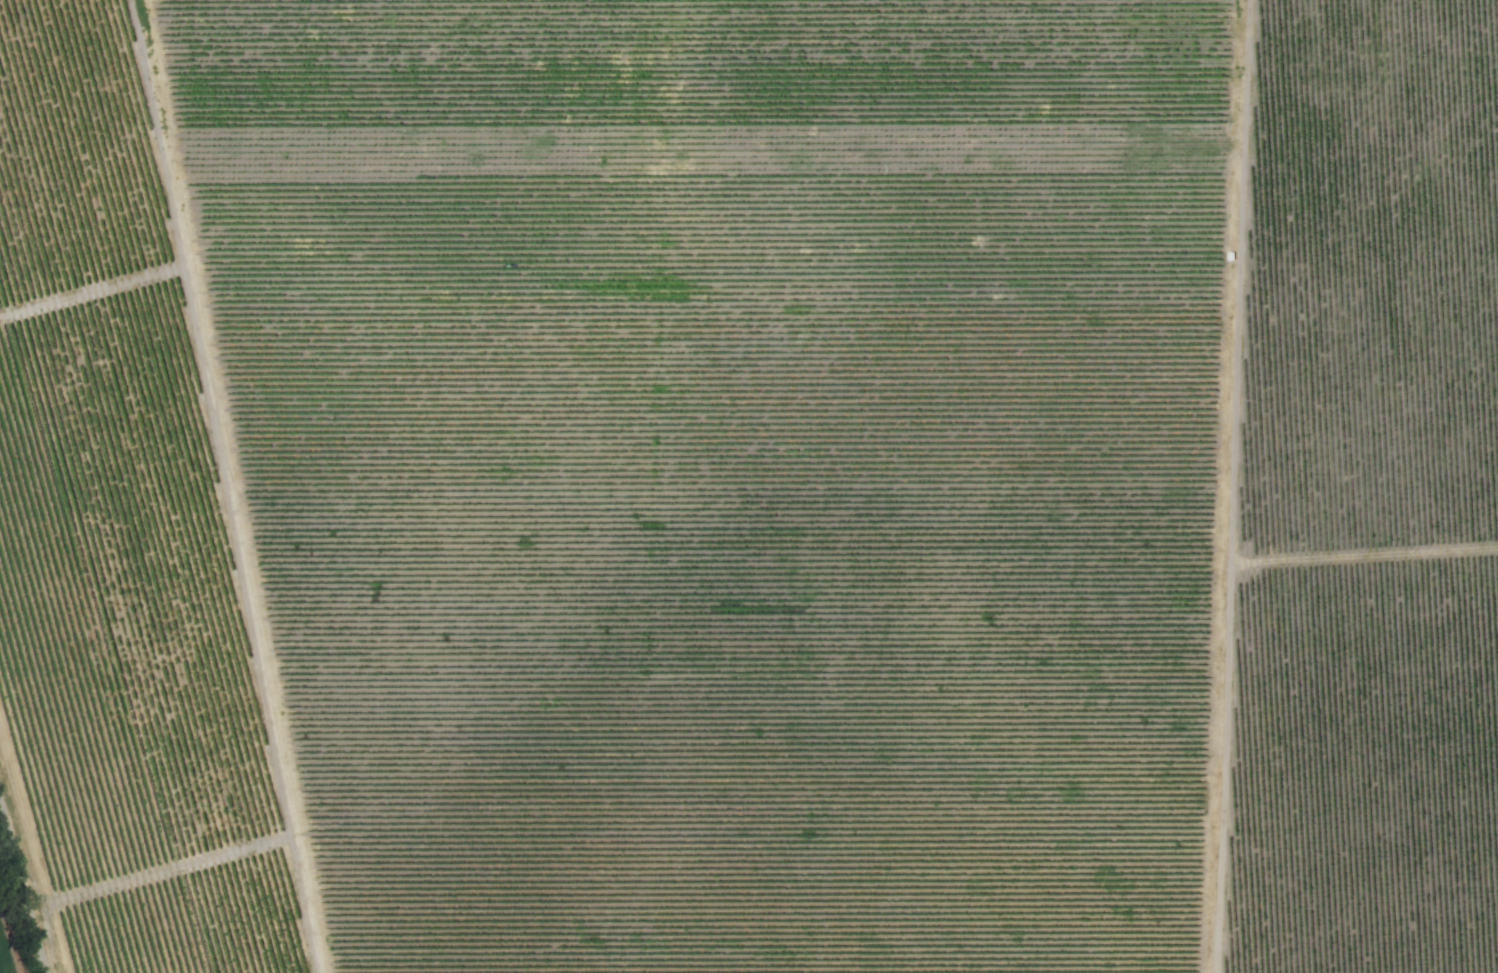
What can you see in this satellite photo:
road: (24, 883)

